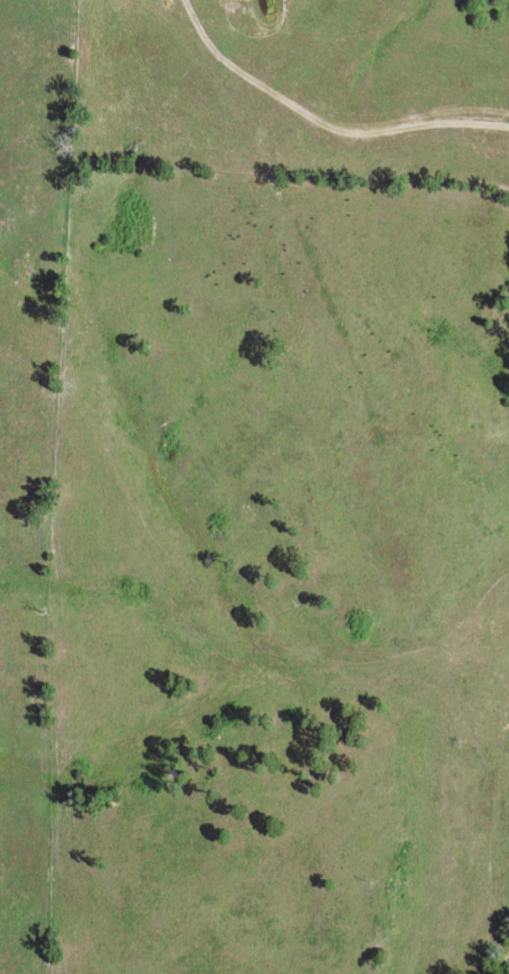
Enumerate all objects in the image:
road: (357, 105)

